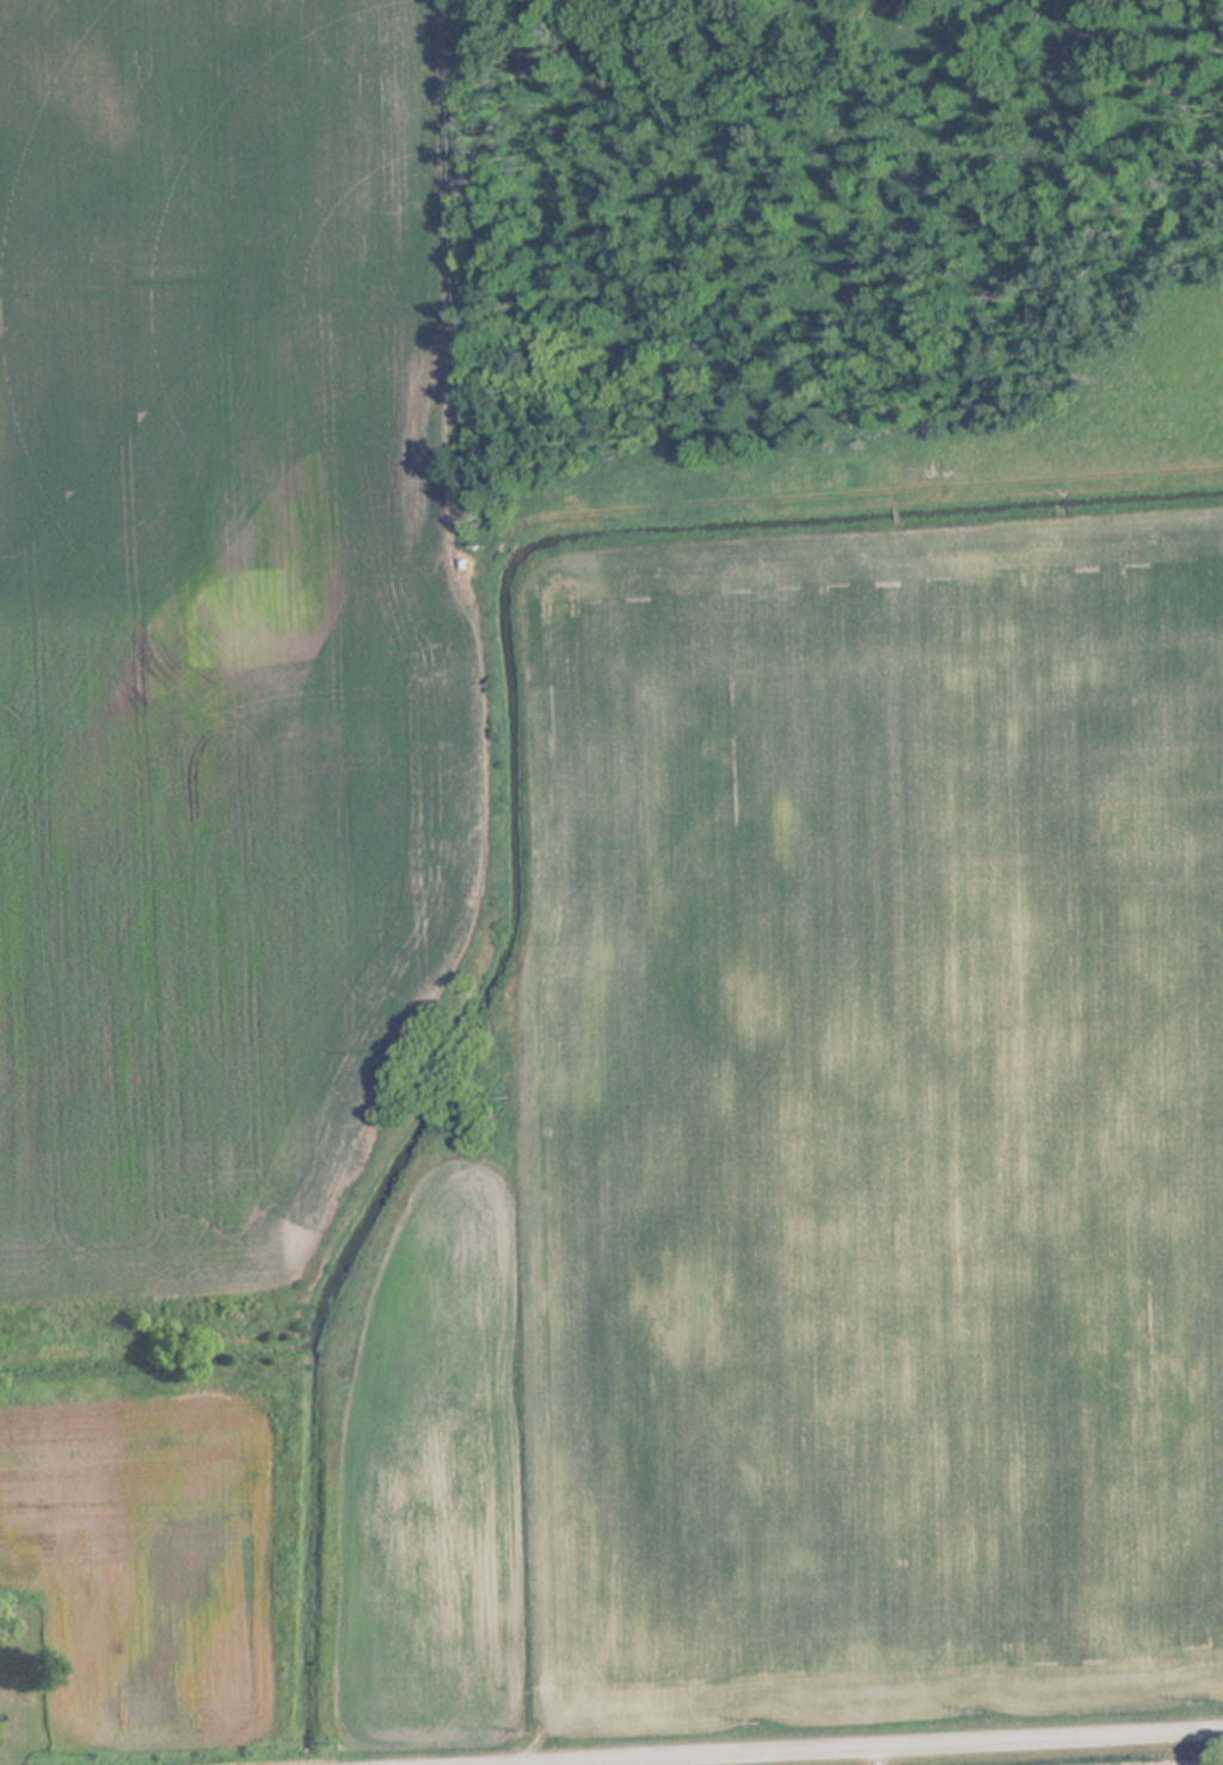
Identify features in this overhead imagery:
road: (844, 1747)

